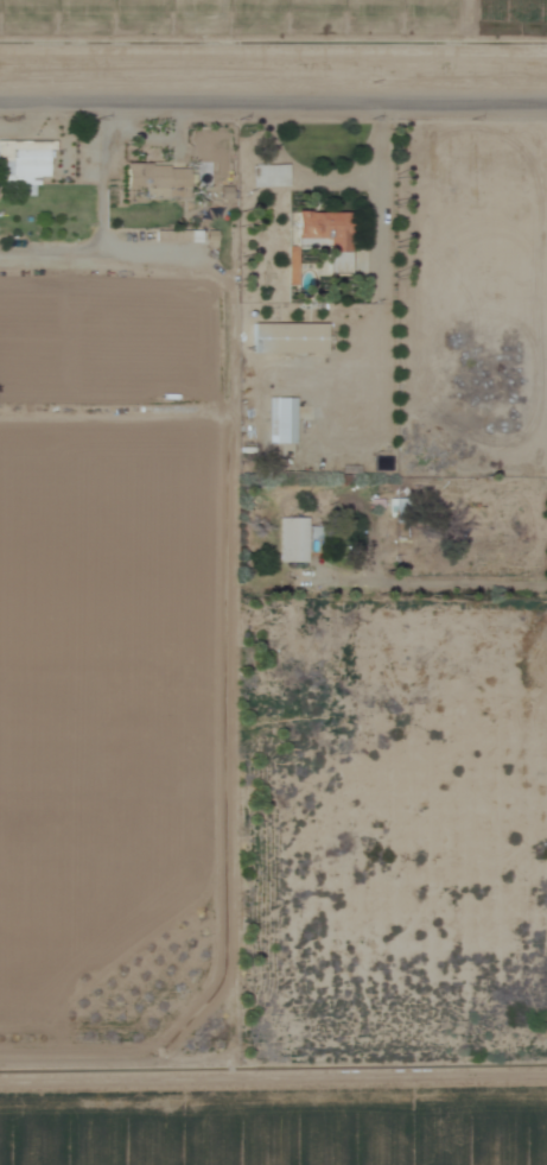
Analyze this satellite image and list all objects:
road: (273, 107)
building: (24, 162)
building: (266, 177)
building: (150, 182)
building: (323, 238)
building: (285, 340)
building: (279, 422)
building: (291, 540)

